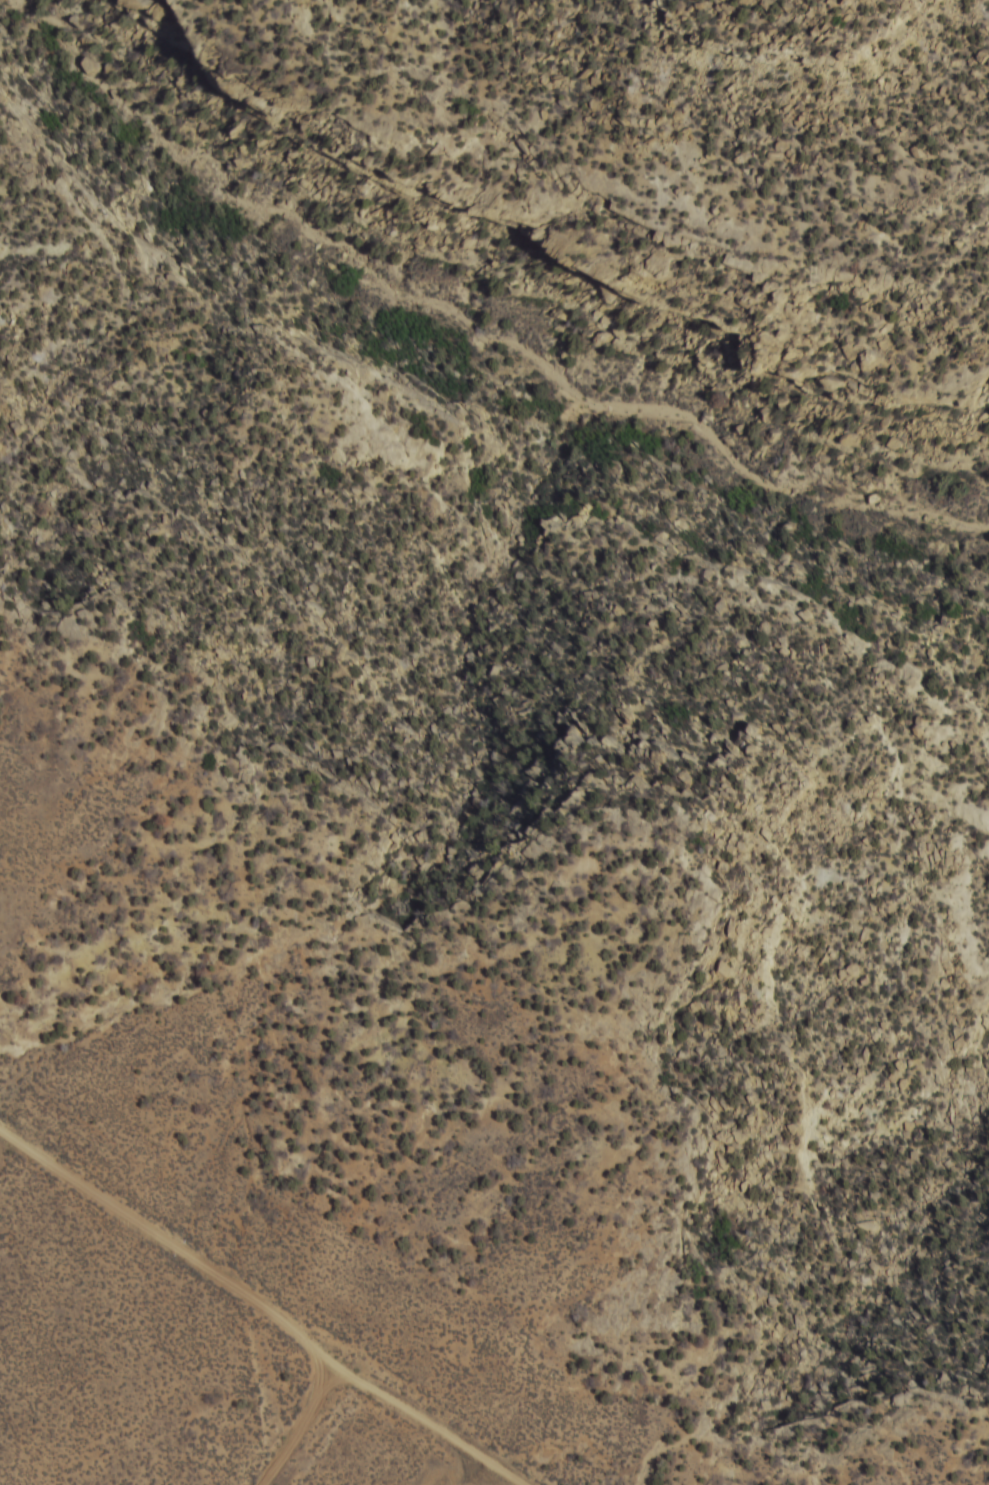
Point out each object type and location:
road: (235, 1318)
road: (304, 1435)

